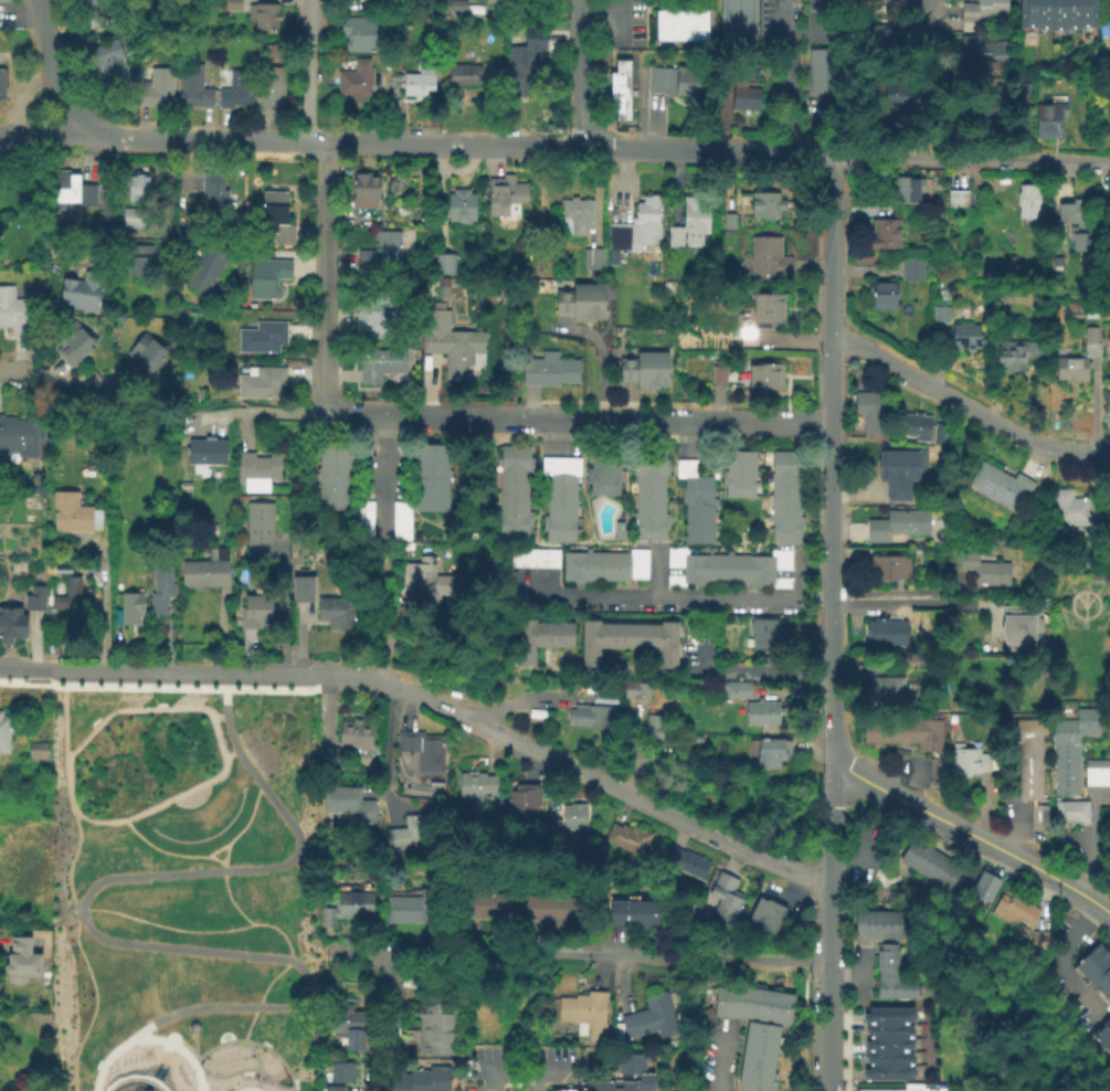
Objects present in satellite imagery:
building: (2, 0)
building: (231, 3)
building: (455, 3)
building: (501, 3)
building: (889, 4)
building: (95, 10)
road: (20, 12)
building: (981, 13)
building: (263, 14)
building: (1043, 14)
building: (1088, 14)
building: (1028, 15)
building: (1058, 17)
building: (1072, 17)
road: (619, 22)
building: (660, 23)
building: (674, 23)
building: (687, 23)
building: (699, 23)
road: (928, 24)
building: (1108, 24)
building: (736, 27)
building: (360, 32)
road: (793, 41)
building: (879, 46)
building: (984, 54)
building: (525, 59)
building: (108, 62)
road: (310, 73)
building: (465, 73)
road: (581, 73)
building: (816, 73)
road: (57, 75)
building: (619, 75)
building: (355, 78)
building: (417, 80)
building: (675, 80)
building: (2, 83)
building: (192, 84)
building: (919, 84)
building: (155, 87)
building: (236, 87)
building: (271, 87)
building: (1023, 89)
building: (746, 94)
building: (896, 94)
road: (789, 97)
building: (619, 104)
building: (1108, 113)
building: (1046, 117)
building: (990, 118)
road: (52, 135)
road: (467, 146)
road: (970, 161)
building: (140, 186)
building: (72, 188)
building: (899, 188)
building: (363, 189)
road: (104, 190)
building: (212, 193)
building: (504, 194)
road: (179, 198)
building: (955, 198)
building: (1027, 199)
building: (764, 203)
building: (461, 204)
building: (402, 211)
building: (575, 213)
building: (133, 216)
building: (273, 219)
building: (728, 219)
building: (689, 221)
building: (1077, 221)
building: (634, 227)
building: (884, 232)
building: (381, 252)
building: (592, 257)
building: (767, 257)
building: (138, 258)
building: (443, 262)
building: (911, 265)
building: (204, 267)
building: (267, 275)
road: (325, 275)
building: (81, 289)
building: (880, 293)
building: (581, 300)
building: (767, 307)
building: (12, 309)
building: (377, 310)
building: (940, 311)
building: (1091, 311)
building: (1075, 314)
building: (1089, 333)
building: (262, 335)
building: (964, 336)
building: (72, 341)
building: (452, 347)
building: (1015, 351)
building: (146, 352)
road: (600, 353)
building: (379, 362)
building: (1069, 367)
building: (548, 368)
building: (645, 368)
road: (10, 370)
building: (718, 370)
building: (763, 377)
road: (74, 379)
building: (262, 381)
building: (1106, 402)
road: (965, 404)
road: (257, 410)
building: (869, 410)
road: (423, 415)
road: (591, 419)
road: (746, 422)
building: (913, 424)
building: (937, 432)
building: (21, 434)
building: (302, 443)
building: (203, 451)
building: (511, 457)
building: (603, 460)
building: (649, 460)
building: (740, 463)
building: (784, 463)
building: (92, 467)
building: (256, 467)
building: (900, 468)
road: (381, 472)
building: (334, 473)
building: (560, 474)
building: (431, 475)
building: (36, 477)
building: (691, 477)
building: (509, 483)
building: (602, 483)
building: (1000, 483)
building: (648, 485)
building: (739, 485)
building: (782, 486)
building: (509, 506)
building: (783, 506)
building: (560, 507)
building: (697, 507)
building: (648, 508)
building: (1072, 508)
building: (72, 510)
building: (362, 518)
building: (401, 519)
building: (898, 522)
building: (257, 523)
building: (509, 526)
building: (617, 528)
building: (649, 528)
building: (557, 529)
building: (784, 529)
building: (698, 531)
building: (533, 555)
building: (628, 563)
building: (886, 564)
building: (575, 565)
building: (600, 565)
building: (687, 565)
building: (718, 565)
building: (737, 566)
building: (981, 566)
building: (767, 568)
building: (207, 569)
road: (656, 571)
road: (799, 575)
building: (426, 579)
road: (829, 580)
building: (302, 586)
building: (160, 587)
road: (898, 589)
building: (68, 593)
building: (33, 596)
road: (103, 599)
road: (669, 600)
road: (932, 602)
building: (130, 606)
road: (283, 607)
building: (338, 608)
building: (255, 610)
building: (53, 617)
building: (11, 622)
building: (1018, 623)
building: (762, 629)
building: (885, 631)
building: (538, 636)
building: (970, 637)
road: (389, 638)
building: (628, 638)
building: (881, 665)
road: (741, 668)
road: (160, 671)
building: (734, 687)
building: (887, 687)
road: (163, 688)
building: (767, 688)
building: (635, 689)
road: (511, 699)
building: (761, 710)
building: (591, 714)
road: (219, 716)
building: (655, 727)
building: (875, 729)
building: (902, 729)
building: (3, 731)
building: (929, 733)
road: (216, 740)
building: (348, 740)
building: (423, 749)
building: (771, 750)
building: (36, 751)
road: (229, 751)
road: (384, 751)
road: (635, 751)
building: (1028, 755)
building: (971, 759)
building: (1070, 762)
building: (937, 769)
road: (577, 771)
building: (1097, 771)
building: (475, 783)
building: (434, 784)
road: (207, 788)
road: (373, 791)
building: (526, 798)
building: (347, 802)
building: (573, 815)
building: (1037, 815)
building: (409, 829)
road: (966, 833)
road: (1091, 837)
building: (631, 838)
road: (208, 854)
road: (214, 858)
building: (686, 860)
building: (929, 861)
building: (983, 885)
park: (181, 888)
road: (225, 888)
road: (71, 896)
building: (723, 898)
building: (486, 900)
building: (345, 907)
building: (409, 907)
building: (550, 908)
building: (1013, 908)
road: (1106, 909)
building: (757, 910)
building: (633, 911)
road: (1106, 911)
road: (84, 913)
road: (73, 917)
building: (771, 917)
building: (859, 921)
building: (873, 923)
building: (885, 923)
building: (897, 923)
road: (269, 924)
building: (1037, 939)
road: (584, 952)
road: (319, 957)
building: (20, 958)
road: (1060, 958)
building: (886, 960)
building: (1096, 968)
road: (860, 973)
road: (844, 974)
building: (895, 987)
building: (751, 1002)
building: (887, 1013)
building: (579, 1014)
building: (649, 1016)
road: (846, 1016)
building: (392, 1021)
building: (347, 1024)
building: (436, 1025)
building: (888, 1030)
building: (1102, 1035)
road: (178, 1036)
road: (150, 1038)
road: (252, 1040)
road: (828, 1040)
building: (888, 1044)
road: (193, 1046)
building: (889, 1055)
building: (757, 1056)
road: (713, 1061)
road: (516, 1067)
road: (247, 1068)
building: (340, 1069)
building: (887, 1069)
building: (634, 1071)
road: (134, 1074)
building: (421, 1079)
road: (367, 1080)
road: (247, 1085)
road: (828, 1085)
building: (332, 1087)
building: (885, 1089)
building: (562, 1090)

